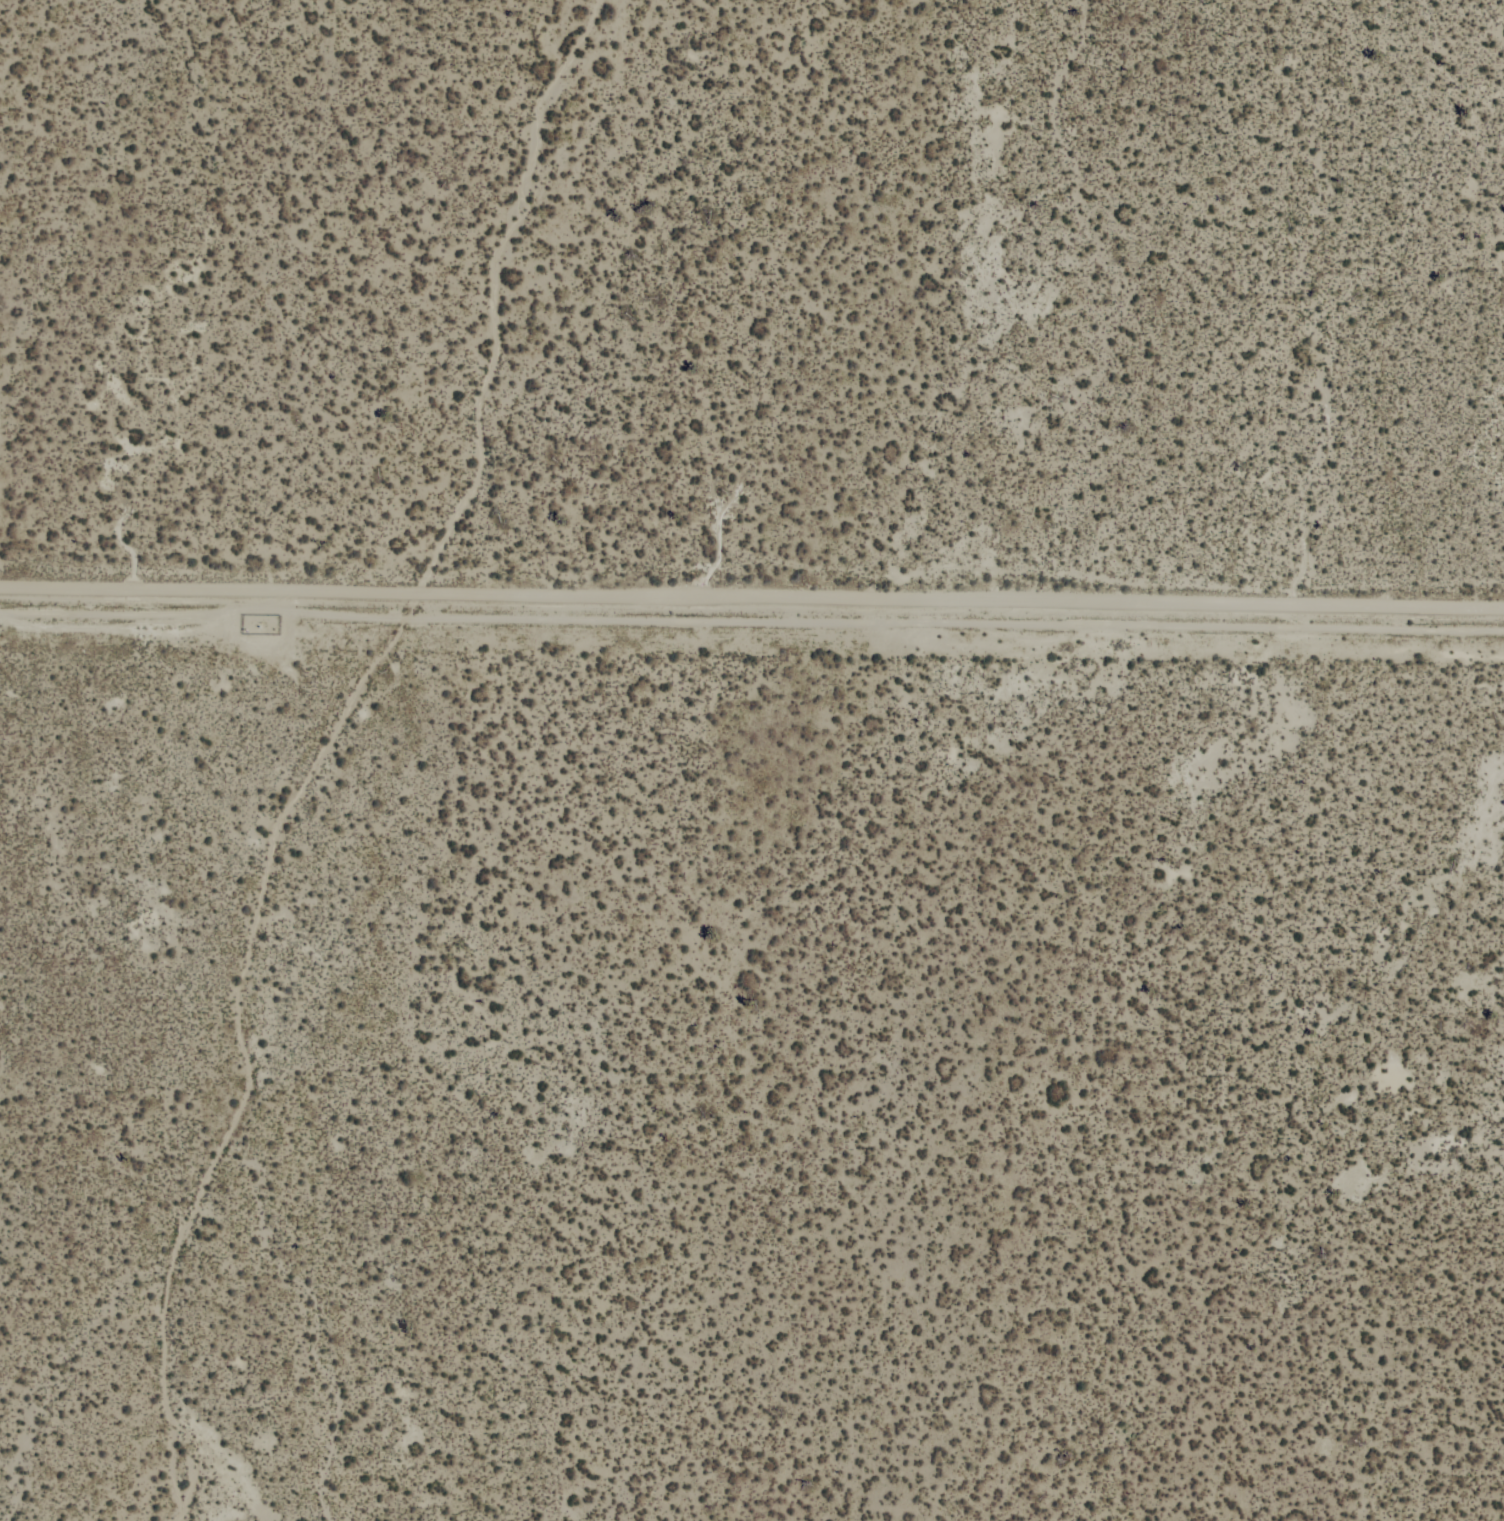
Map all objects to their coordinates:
road: (752, 608)

